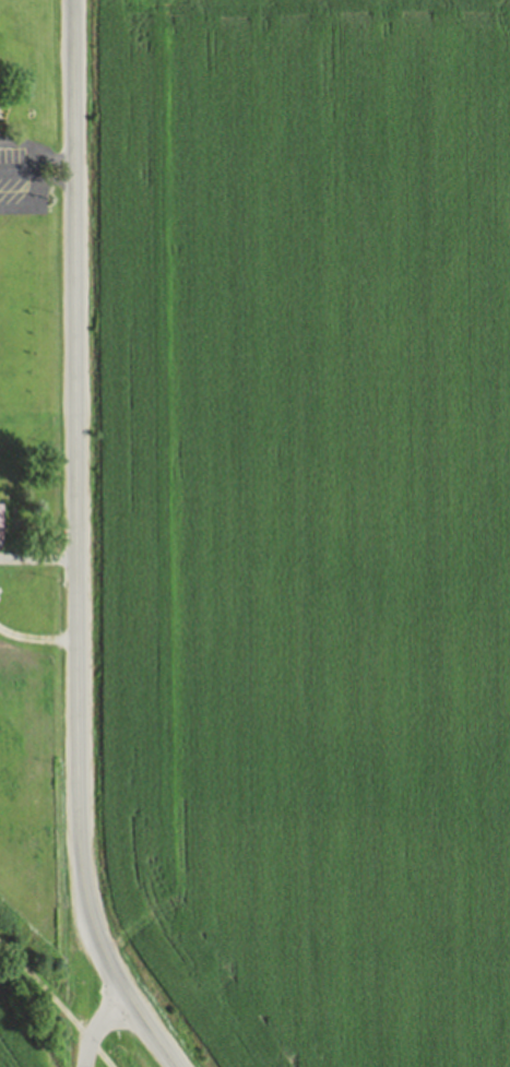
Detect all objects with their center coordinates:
road: (29, 146)
road: (21, 170)
road: (58, 170)
parking lot: (26, 176)
road: (37, 188)
road: (15, 209)
road: (78, 465)
road: (38, 558)
road: (82, 998)
road: (132, 999)
road: (56, 1004)

